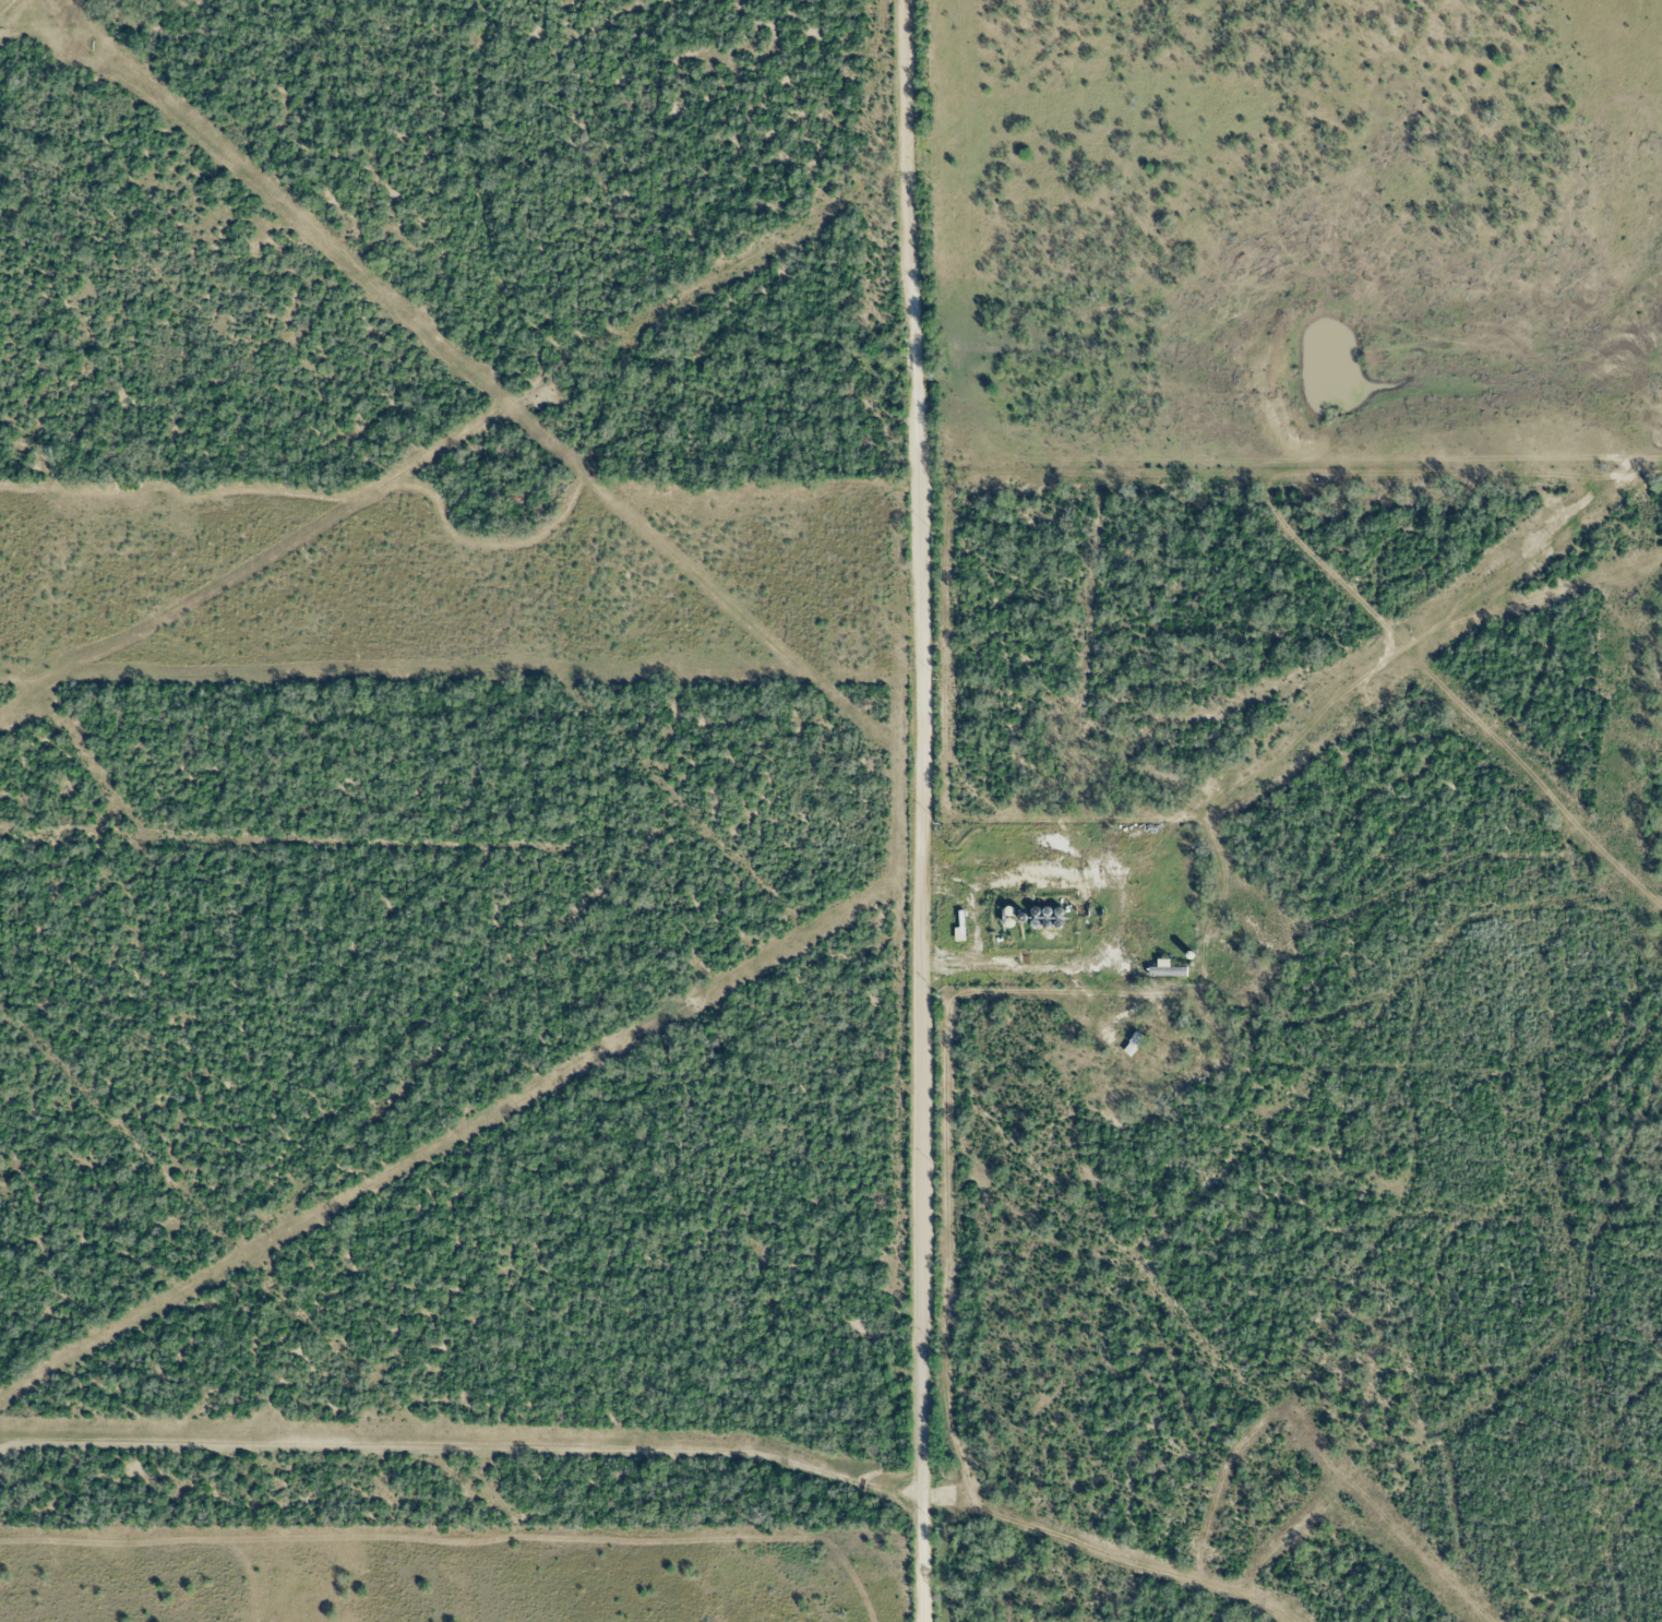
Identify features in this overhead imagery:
road: (917, 810)
building: (1165, 968)
building: (1132, 1043)

